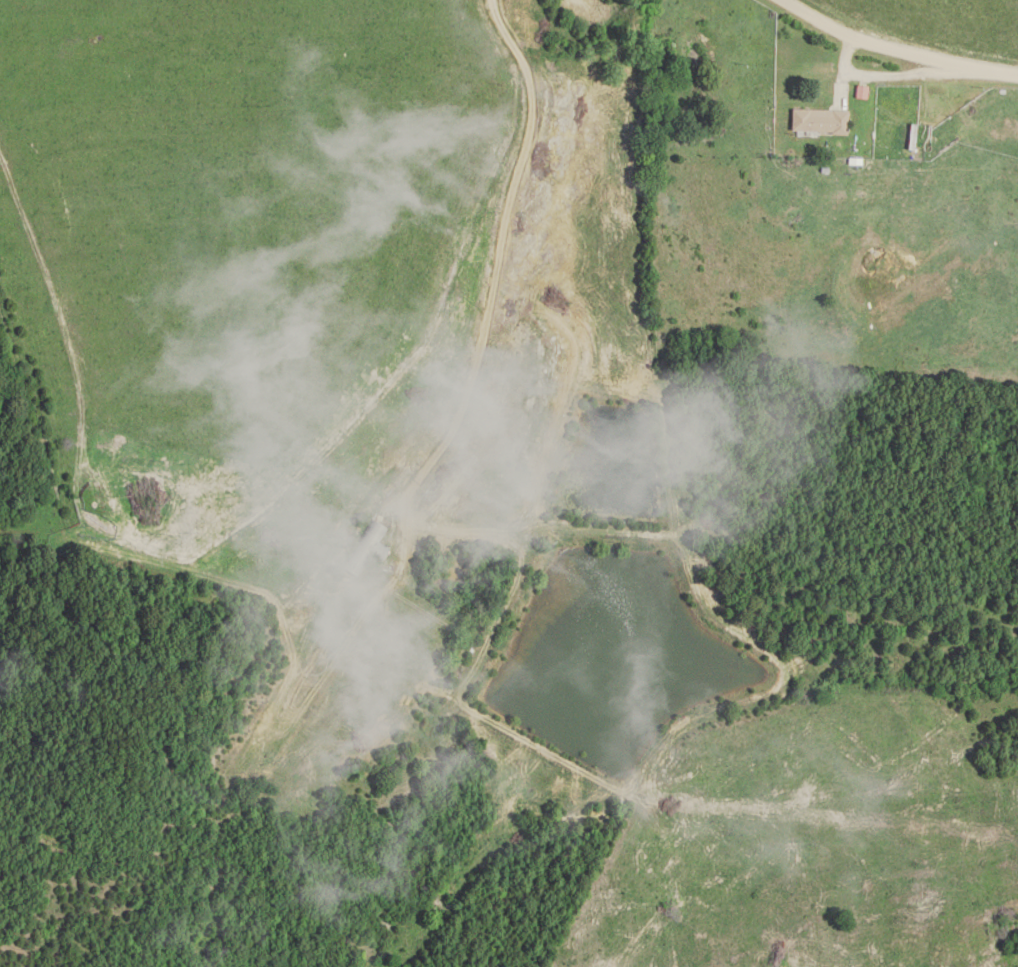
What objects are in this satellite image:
road: (898, 51)
road: (913, 76)
building: (820, 122)
building: (368, 549)

